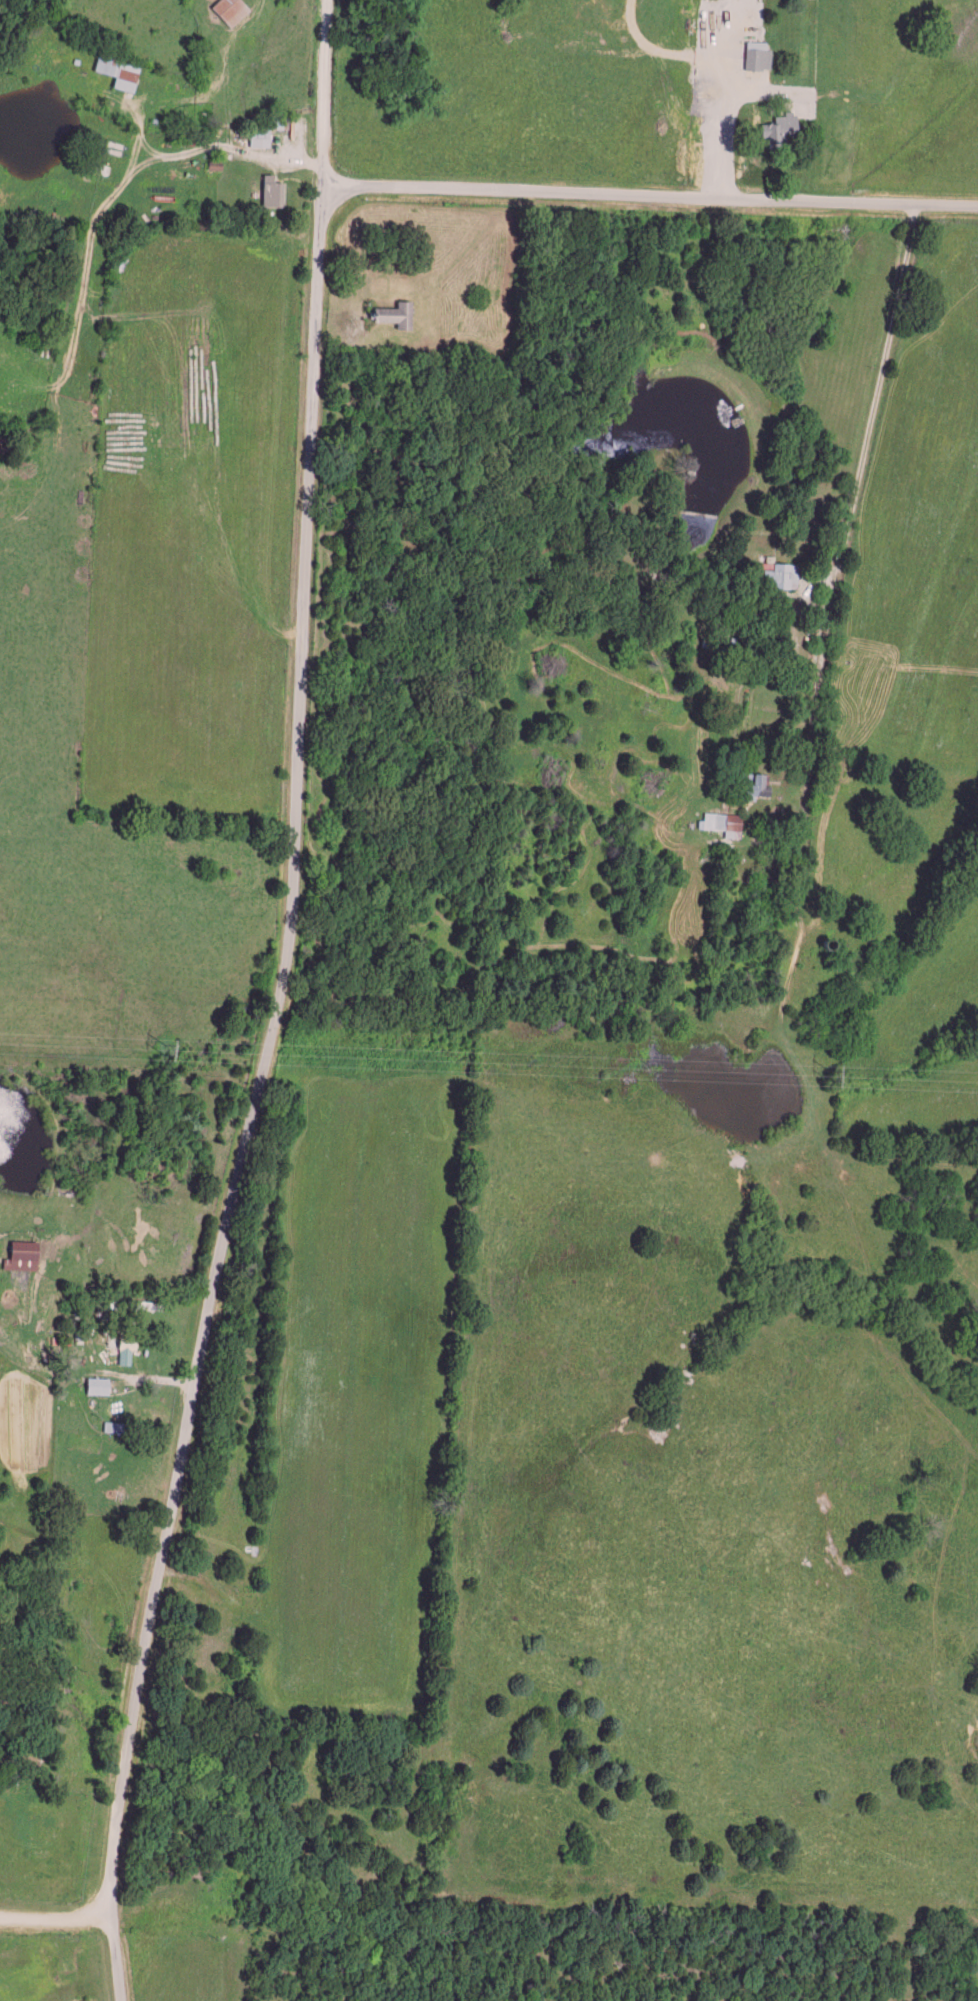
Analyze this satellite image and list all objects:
building: (231, 9)
building: (759, 52)
building: (120, 67)
building: (780, 126)
building: (261, 135)
road: (216, 156)
building: (274, 188)
road: (650, 196)
building: (398, 312)
building: (784, 573)
road: (823, 659)
building: (757, 783)
building: (724, 821)
road: (281, 1008)
power tower: (175, 1048)
power tower: (837, 1073)
building: (23, 1253)
building: (127, 1347)
building: (98, 1383)
road: (56, 1922)

